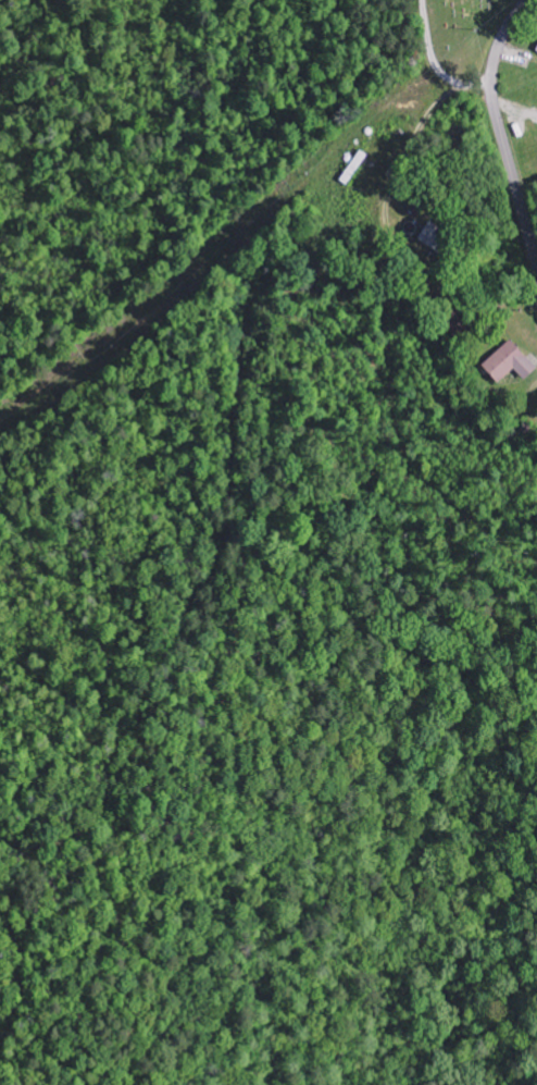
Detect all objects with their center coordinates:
road: (498, 136)
building: (435, 238)
building: (511, 363)

